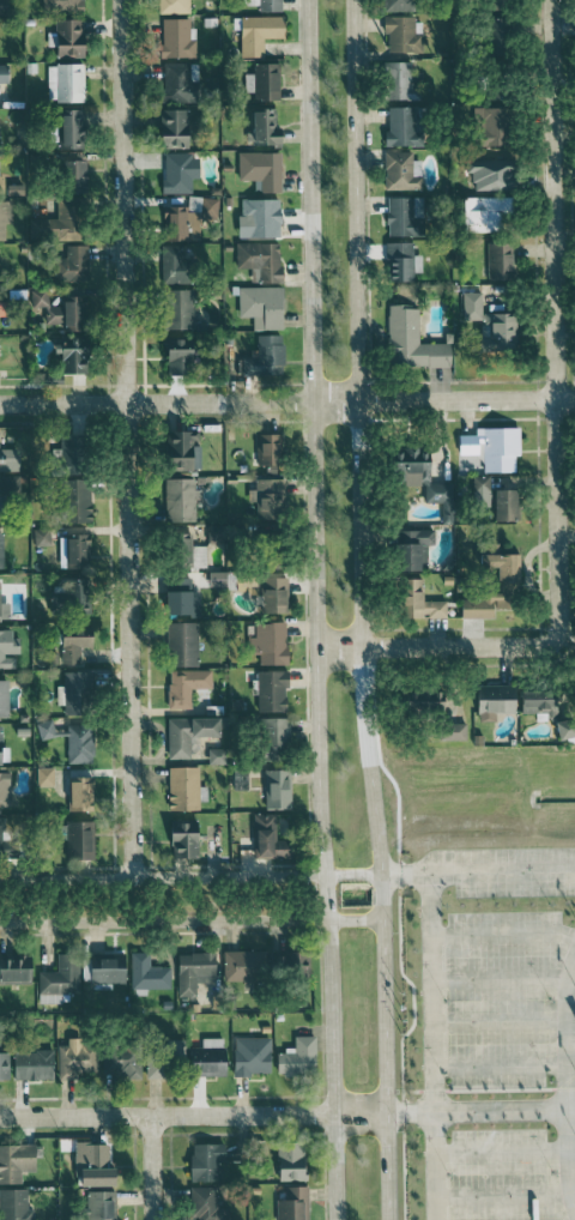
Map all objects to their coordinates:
building: (62, 5)
building: (271, 5)
building: (400, 5)
building: (4, 6)
building: (174, 6)
building: (260, 32)
building: (404, 35)
building: (72, 37)
building: (177, 38)
building: (5, 73)
building: (268, 81)
building: (400, 81)
building: (66, 83)
building: (178, 83)
building: (75, 126)
building: (267, 126)
building: (404, 126)
building: (498, 126)
building: (176, 128)
building: (0, 139)
building: (262, 169)
building: (181, 171)
building: (402, 171)
building: (77, 181)
building: (2, 183)
building: (489, 212)
building: (405, 216)
building: (5, 217)
building: (261, 218)
building: (67, 228)
building: (261, 260)
building: (404, 260)
building: (502, 260)
building: (73, 264)
building: (176, 265)
building: (264, 307)
building: (182, 309)
building: (66, 312)
building: (492, 322)
road: (555, 322)
building: (414, 342)
building: (77, 355)
building: (181, 356)
building: (266, 357)
road: (287, 401)
road: (125, 439)
building: (73, 447)
building: (494, 448)
building: (183, 449)
building: (271, 449)
building: (16, 455)
road: (313, 460)
road: (359, 461)
building: (426, 479)
building: (10, 491)
building: (270, 499)
building: (181, 500)
building: (509, 505)
building: (81, 508)
building: (416, 548)
building: (2, 551)
building: (80, 551)
building: (194, 556)
building: (503, 568)
building: (72, 594)
building: (274, 596)
building: (423, 602)
building: (186, 603)
building: (486, 604)
building: (5, 605)
building: (184, 644)
building: (272, 644)
road: (437, 645)
building: (7, 648)
building: (74, 648)
building: (187, 686)
building: (274, 691)
building: (78, 693)
building: (5, 699)
building: (498, 700)
building: (543, 702)
building: (210, 727)
building: (568, 729)
building: (46, 730)
building: (277, 733)
building: (180, 738)
building: (80, 743)
building: (1, 744)
building: (218, 756)
building: (46, 777)
building: (241, 780)
building: (184, 789)
building: (5, 790)
building: (279, 790)
building: (83, 795)
building: (6, 839)
building: (270, 839)
building: (81, 840)
building: (187, 840)
parking lot: (508, 871)
road: (478, 872)
road: (353, 874)
road: (163, 877)
road: (357, 922)
road: (165, 923)
building: (293, 964)
building: (248, 965)
building: (16, 968)
building: (194, 968)
building: (110, 970)
building: (149, 973)
building: (60, 980)
parking lot: (498, 996)
road: (432, 1046)
building: (254, 1055)
building: (211, 1057)
building: (298, 1057)
building: (78, 1058)
building: (5, 1063)
building: (122, 1063)
building: (34, 1064)
building: (164, 1065)
road: (332, 1070)
road: (385, 1071)
road: (567, 1079)
road: (476, 1110)
road: (359, 1112)
road: (167, 1113)
building: (92, 1153)
building: (17, 1160)
building: (205, 1161)
building: (292, 1162)
road: (151, 1167)
parking lot: (500, 1174)
building: (99, 1176)
building: (206, 1203)
building: (293, 1203)
building: (14, 1204)
building: (102, 1204)

